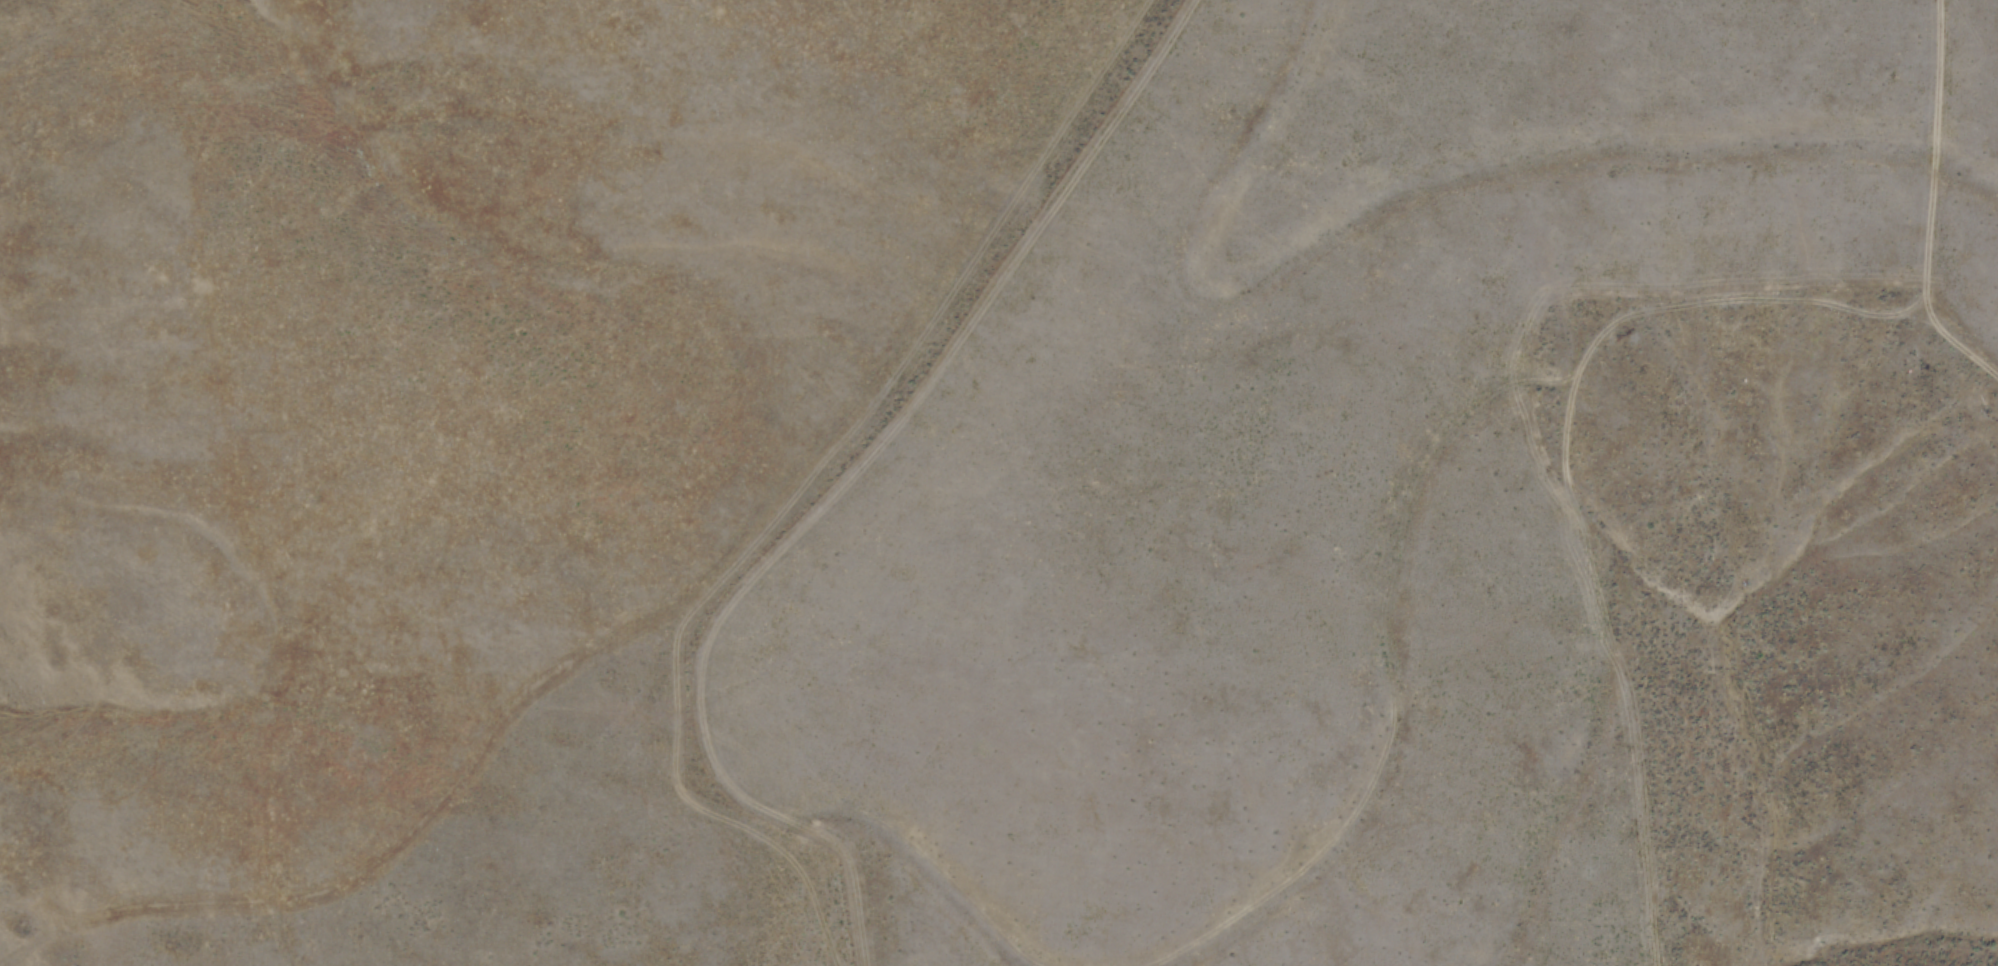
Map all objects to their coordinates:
road: (1931, 151)

